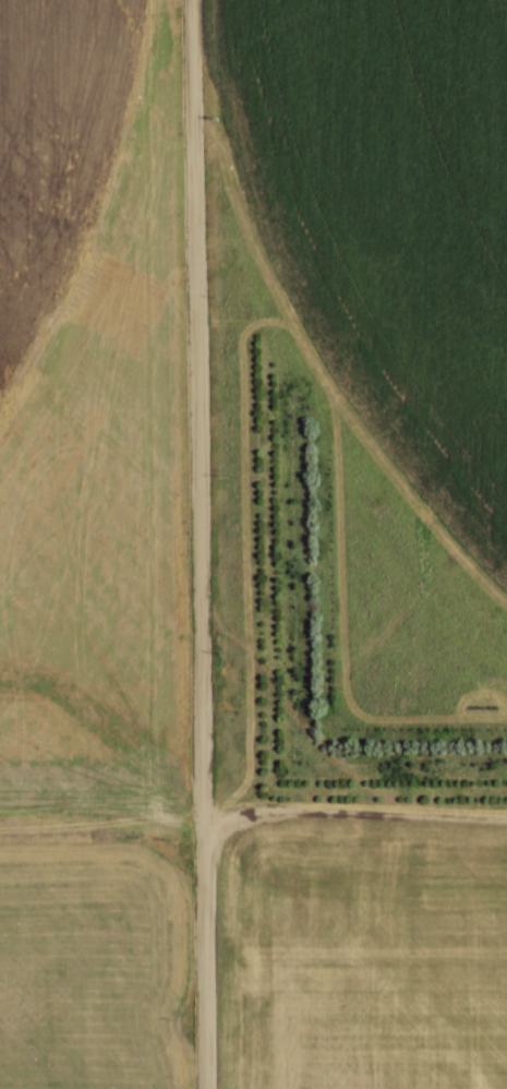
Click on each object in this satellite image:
crop: (389, 216)
road: (198, 543)
crop: (90, 546)
crop: (363, 949)

